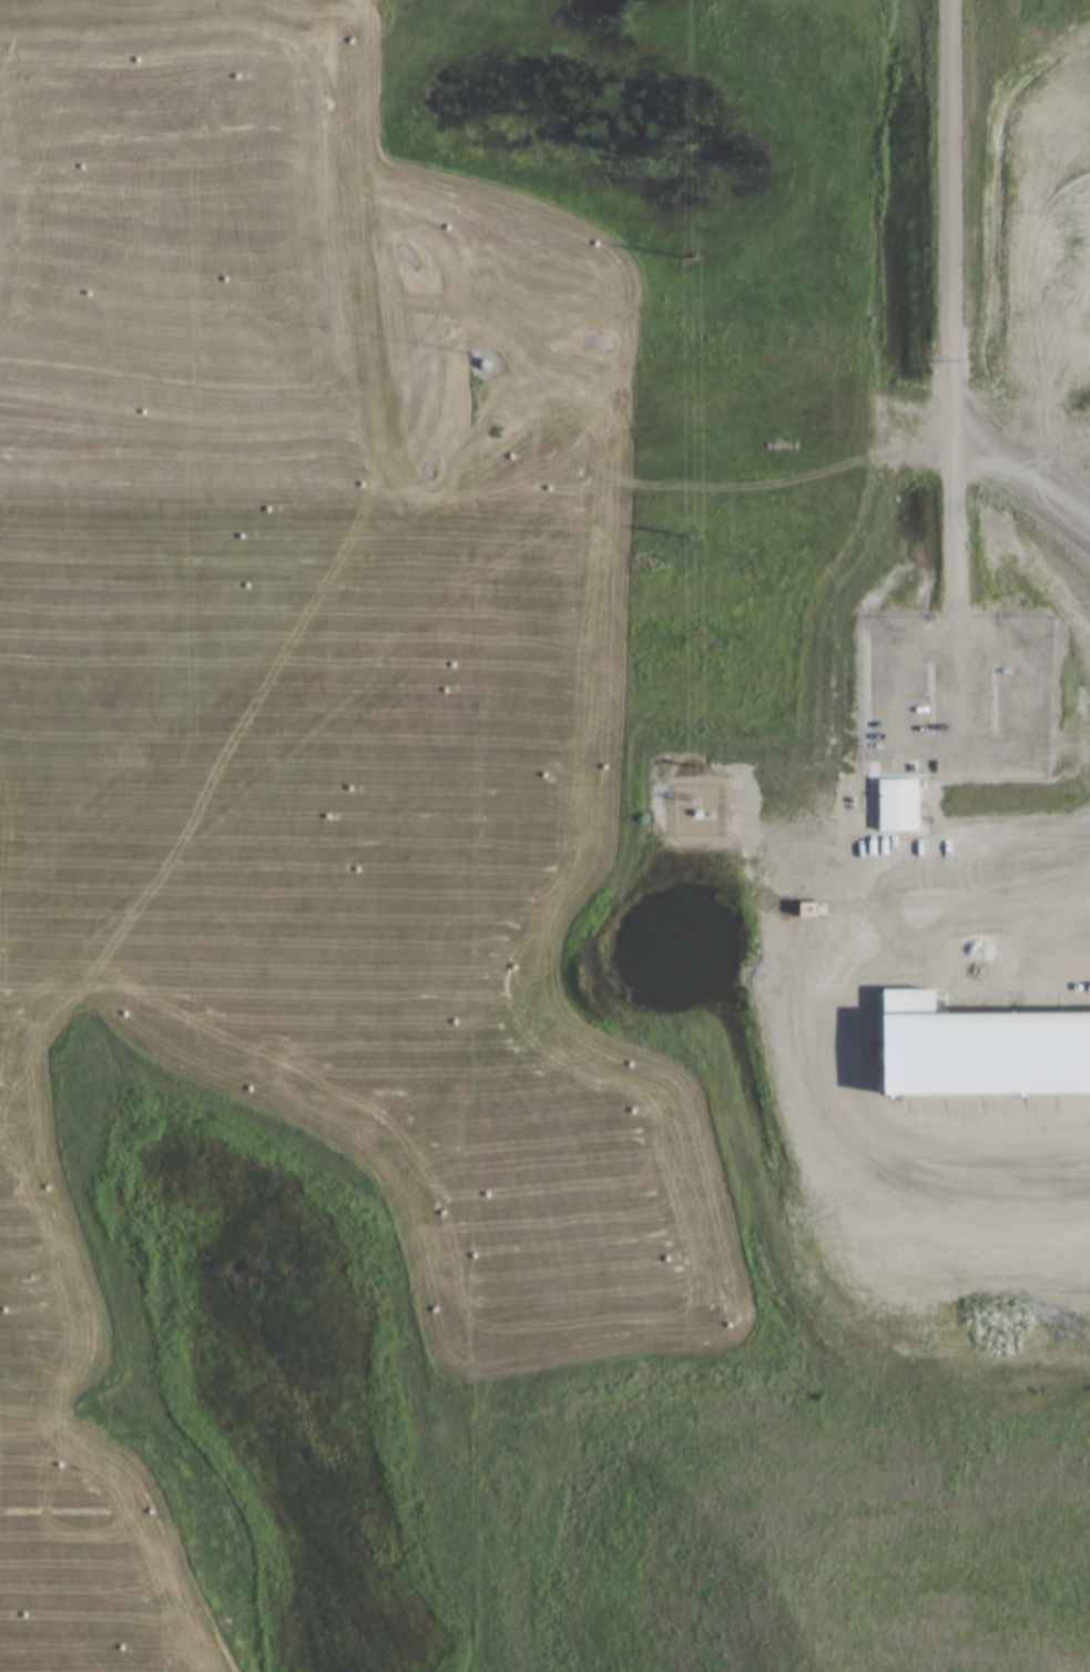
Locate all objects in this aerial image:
building: (960, 104)
road: (951, 374)
building: (900, 805)
power substation: (700, 812)
quarry: (544, 836)
building: (982, 1049)

